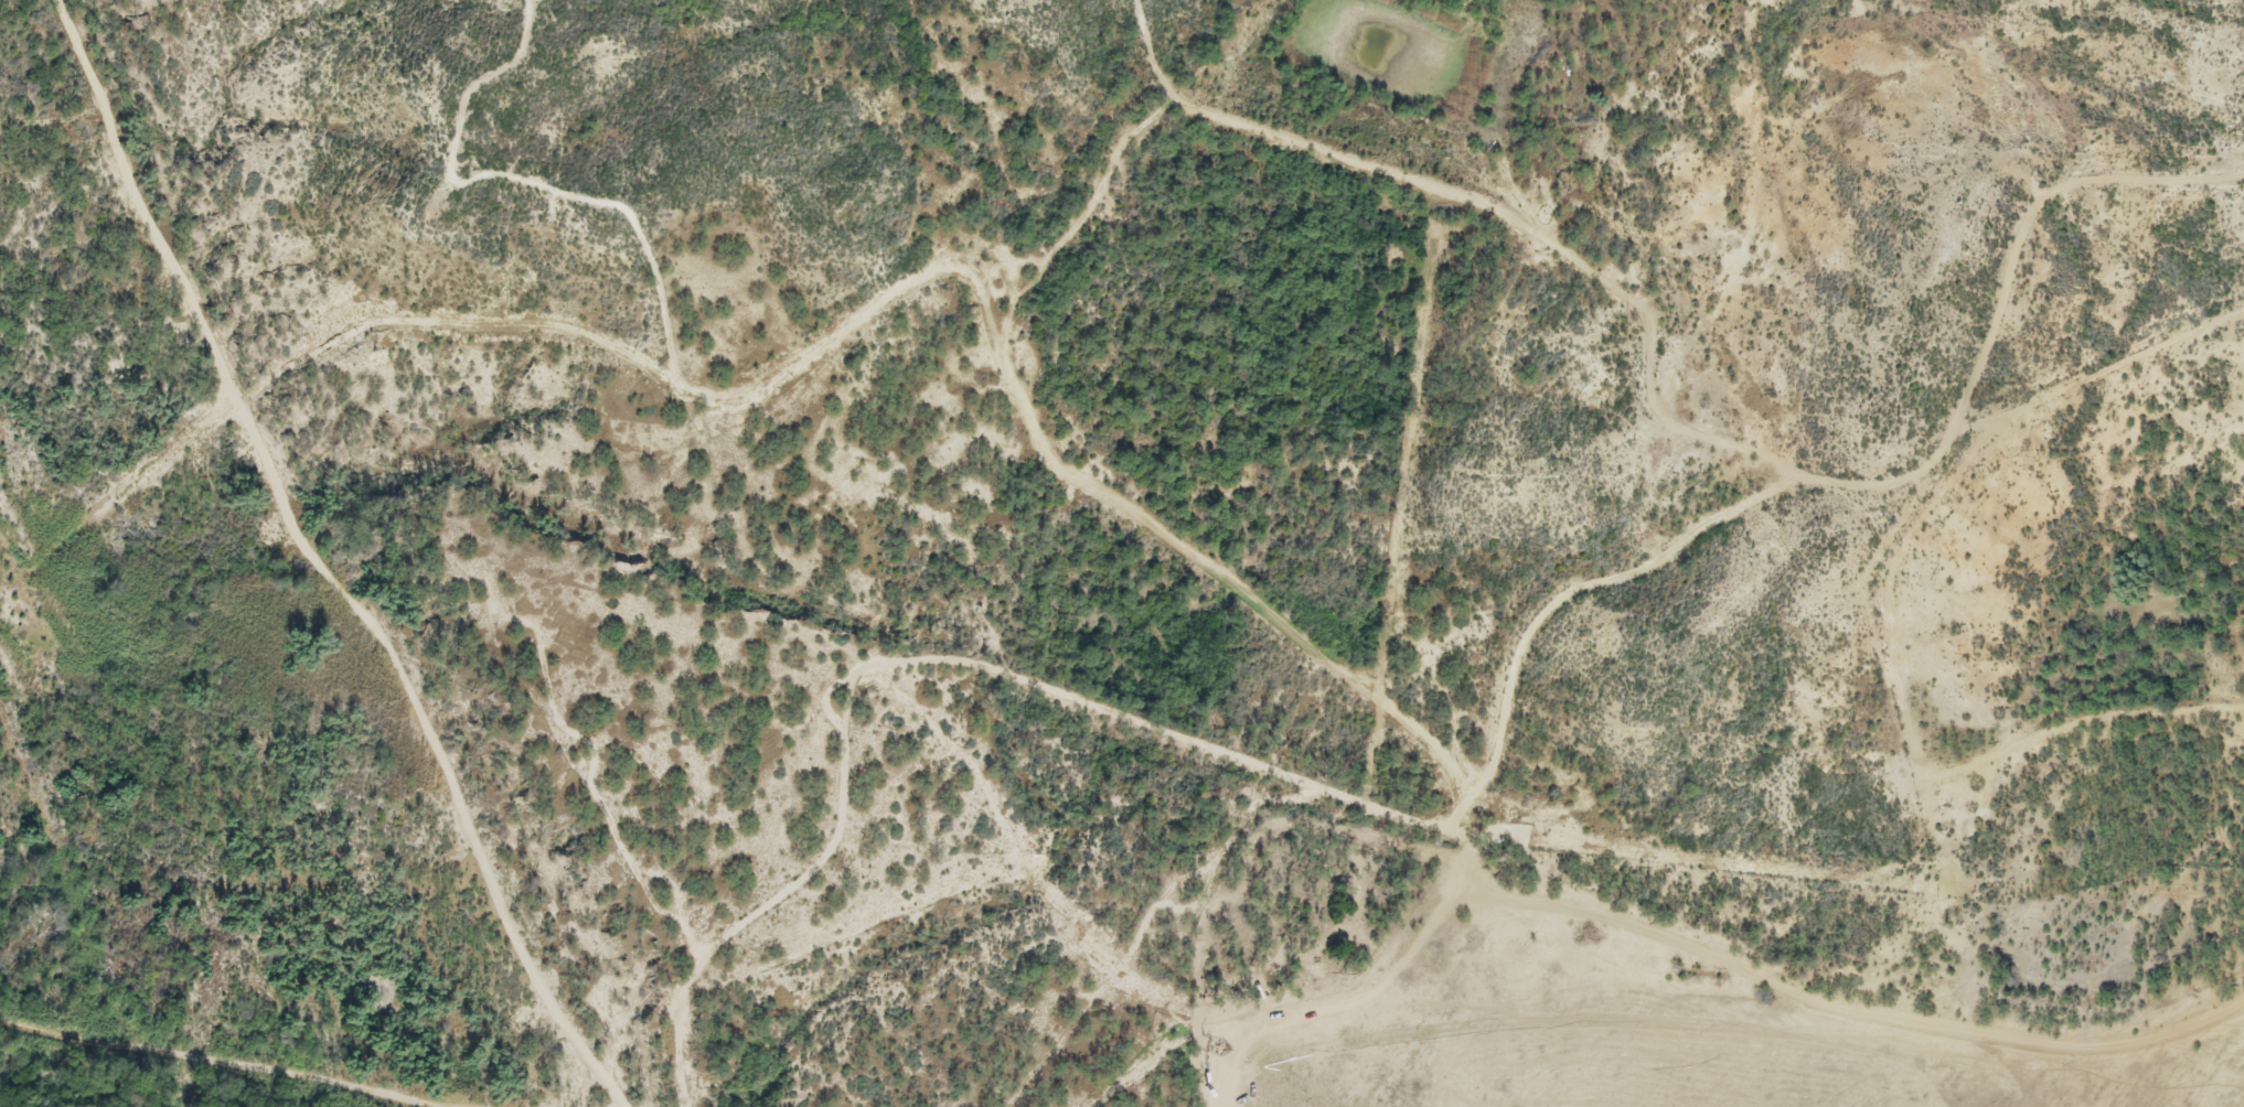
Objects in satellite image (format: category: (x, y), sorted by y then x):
road: (1500, 211)
road: (665, 305)
road: (1827, 483)
road: (1104, 491)
road: (966, 669)
road: (1688, 943)

